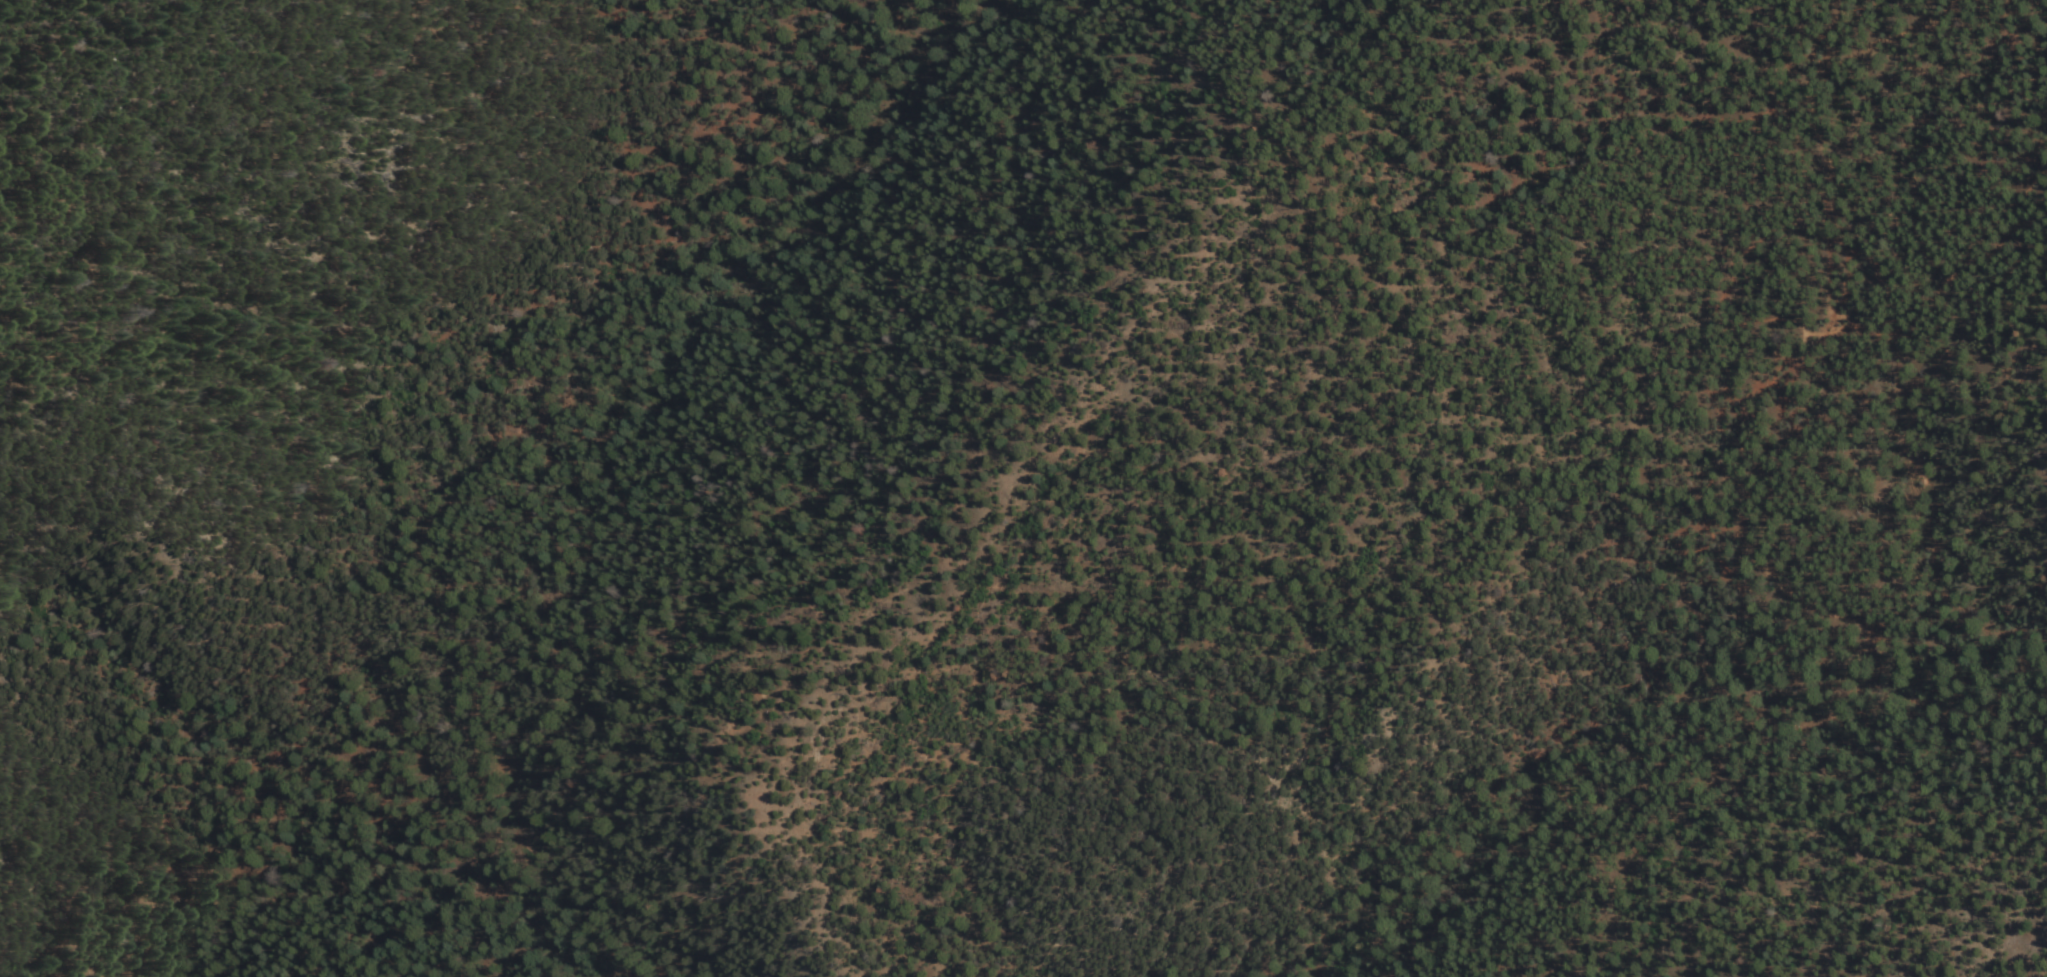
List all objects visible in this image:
road: (1982, 254)
road: (1950, 363)
road: (1725, 460)
road: (1796, 712)
road: (2021, 725)
road: (397, 810)
road: (485, 960)

